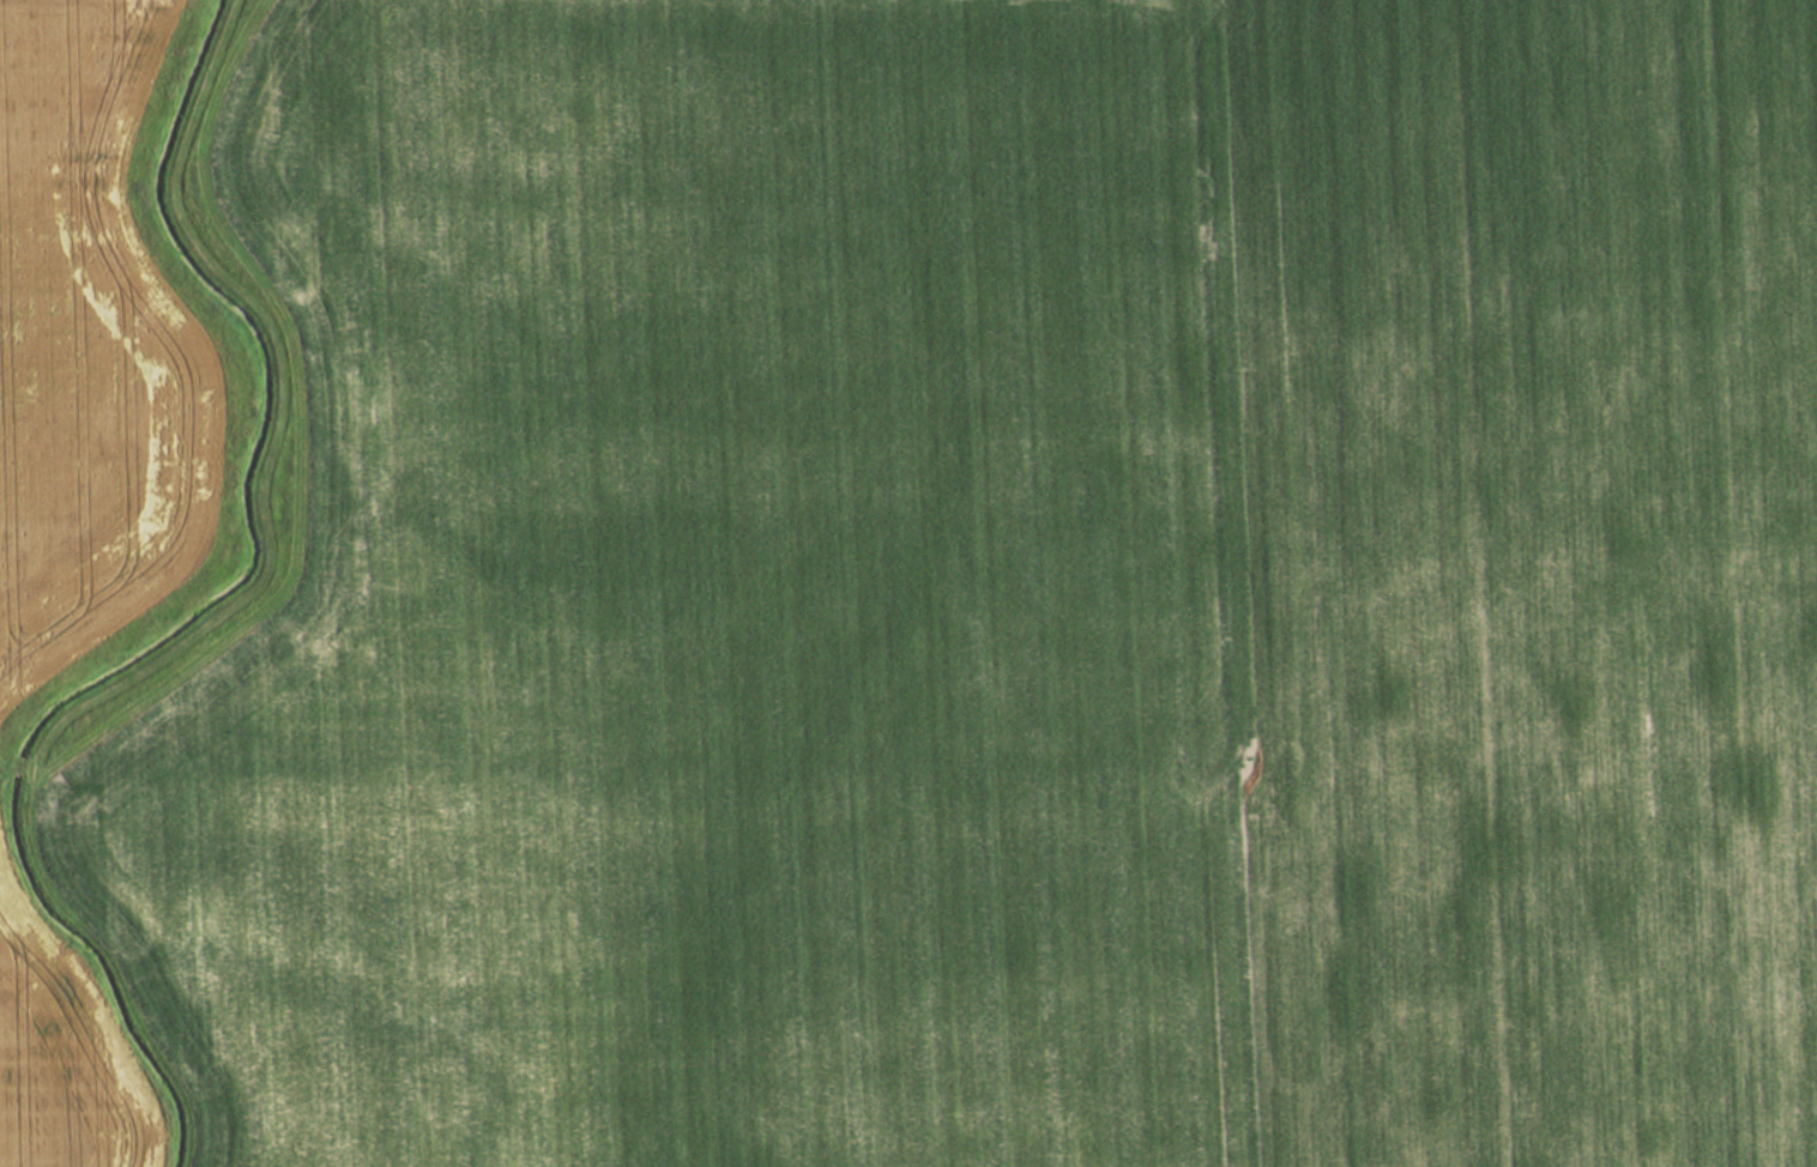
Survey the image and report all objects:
crop: (85, 347)
crop: (1013, 592)
crop: (50, 1069)

